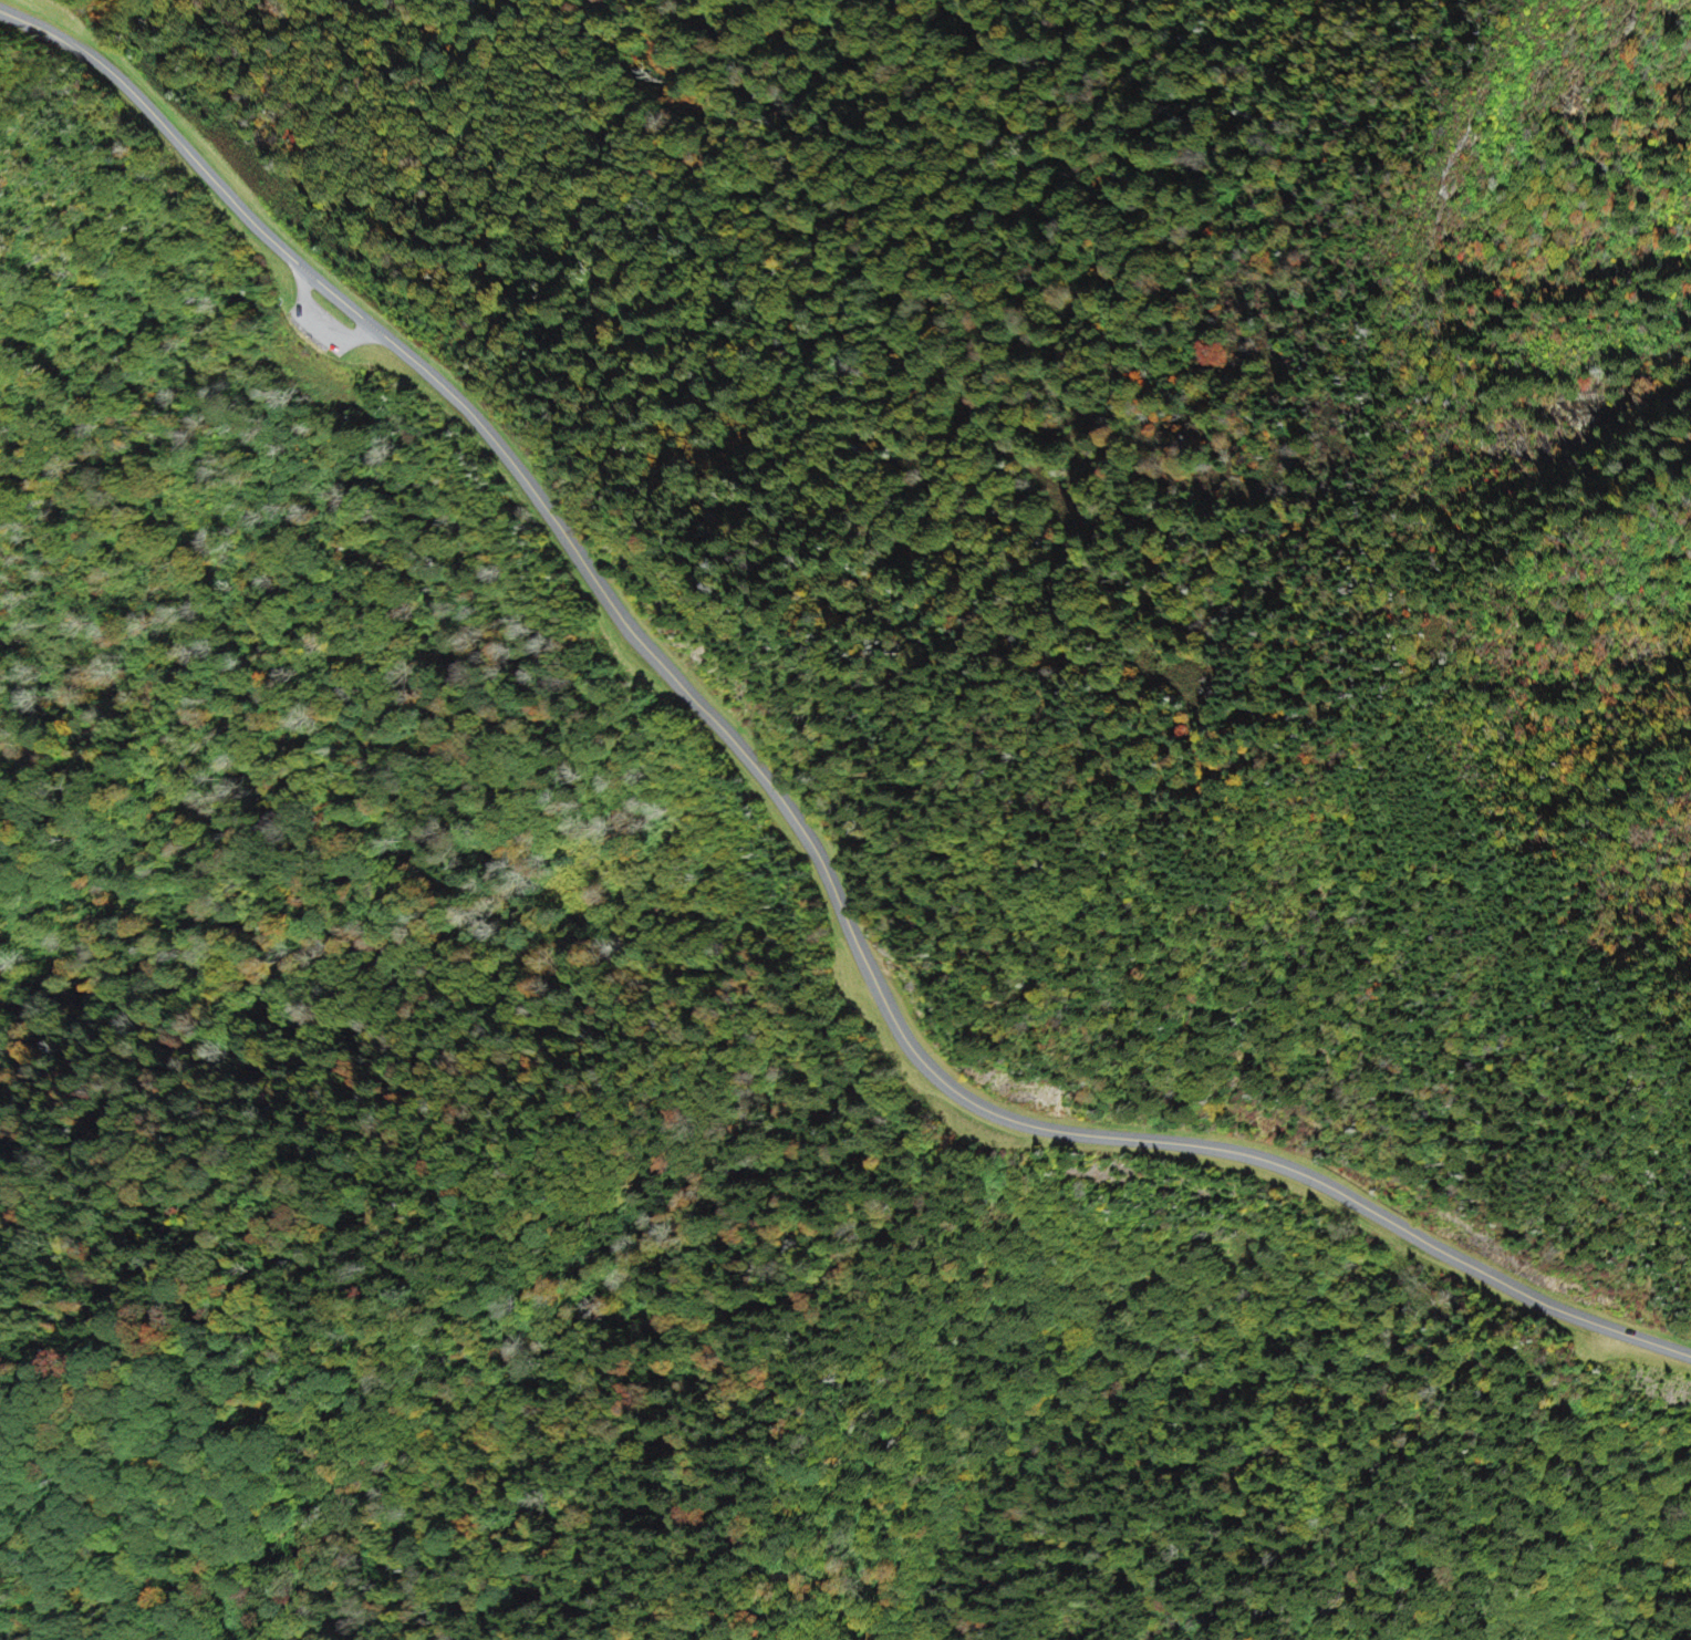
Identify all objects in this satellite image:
road: (4, 8)
road: (319, 321)
road: (788, 810)
road: (207, 1533)
road: (876, 1563)

